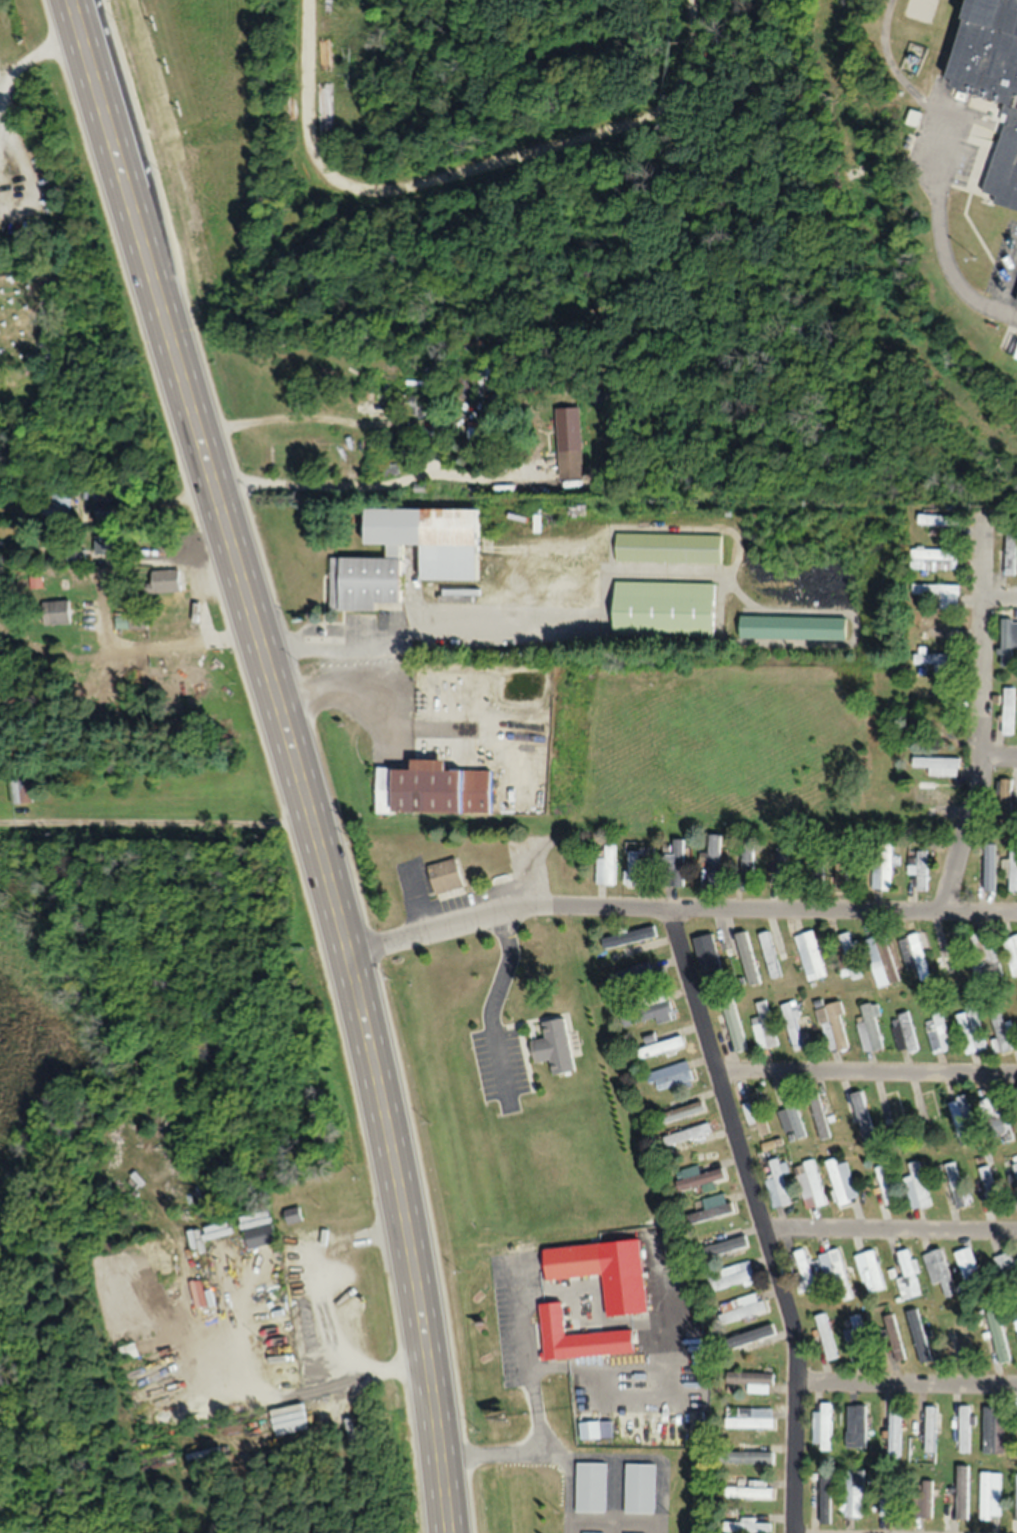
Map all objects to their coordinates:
building: (993, 57)
road: (471, 170)
building: (1008, 175)
road: (950, 243)
building: (467, 386)
road: (337, 421)
building: (569, 443)
road: (204, 470)
road: (375, 485)
building: (112, 511)
building: (938, 520)
building: (107, 544)
building: (668, 548)
building: (1010, 553)
road: (159, 556)
building: (77, 558)
building: (934, 560)
building: (366, 569)
building: (166, 582)
building: (939, 595)
road: (998, 596)
building: (663, 609)
building: (57, 612)
building: (131, 622)
building: (791, 628)
building: (938, 629)
road: (415, 638)
building: (1007, 643)
building: (936, 661)
building: (1008, 711)
road: (979, 719)
building: (935, 731)
road: (998, 756)
building: (938, 765)
building: (433, 789)
building: (22, 791)
building: (934, 798)
building: (1003, 801)
building: (714, 861)
building: (677, 863)
building: (606, 867)
building: (747, 867)
building: (632, 869)
building: (782, 870)
building: (813, 870)
building: (881, 871)
building: (920, 871)
building: (842, 874)
building: (989, 876)
building: (445, 877)
building: (1013, 878)
road: (500, 906)
road: (840, 908)
building: (629, 937)
building: (746, 953)
building: (707, 954)
building: (770, 954)
building: (1011, 954)
building: (810, 956)
building: (850, 956)
building: (949, 957)
building: (881, 961)
building: (986, 963)
building: (634, 973)
road: (493, 998)
building: (656, 1013)
building: (792, 1025)
building: (871, 1026)
building: (764, 1027)
building: (735, 1028)
building: (833, 1028)
building: (970, 1031)
building: (939, 1032)
building: (1000, 1032)
building: (904, 1034)
building: (555, 1047)
building: (660, 1048)
road: (867, 1071)
building: (670, 1076)
building: (1016, 1101)
building: (890, 1107)
building: (991, 1108)
building: (682, 1112)
building: (755, 1112)
building: (961, 1116)
building: (791, 1117)
building: (819, 1119)
building: (1005, 1134)
building: (687, 1135)
building: (1015, 1170)
building: (985, 1178)
building: (700, 1181)
building: (842, 1183)
building: (954, 1185)
building: (778, 1186)
building: (916, 1186)
building: (811, 1187)
building: (710, 1213)
road: (757, 1213)
road: (890, 1230)
road: (406, 1234)
building: (261, 1237)
building: (729, 1246)
building: (572, 1261)
building: (834, 1270)
building: (870, 1270)
building: (803, 1271)
building: (938, 1271)
building: (1007, 1272)
building: (731, 1276)
building: (908, 1277)
building: (740, 1309)
building: (758, 1335)
building: (918, 1336)
building: (825, 1337)
building: (577, 1338)
building: (856, 1339)
building: (891, 1339)
building: (997, 1339)
building: (959, 1340)
building: (129, 1353)
building: (748, 1380)
road: (907, 1385)
road: (539, 1410)
building: (750, 1419)
building: (855, 1427)
building: (821, 1429)
building: (930, 1429)
building: (964, 1429)
building: (894, 1430)
building: (993, 1430)
building: (590, 1431)
building: (750, 1453)
road: (570, 1478)
building: (590, 1488)
building: (639, 1489)
building: (962, 1492)
building: (853, 1495)
building: (991, 1496)
building: (824, 1499)
building: (925, 1499)
building: (889, 1504)
building: (747, 1527)

